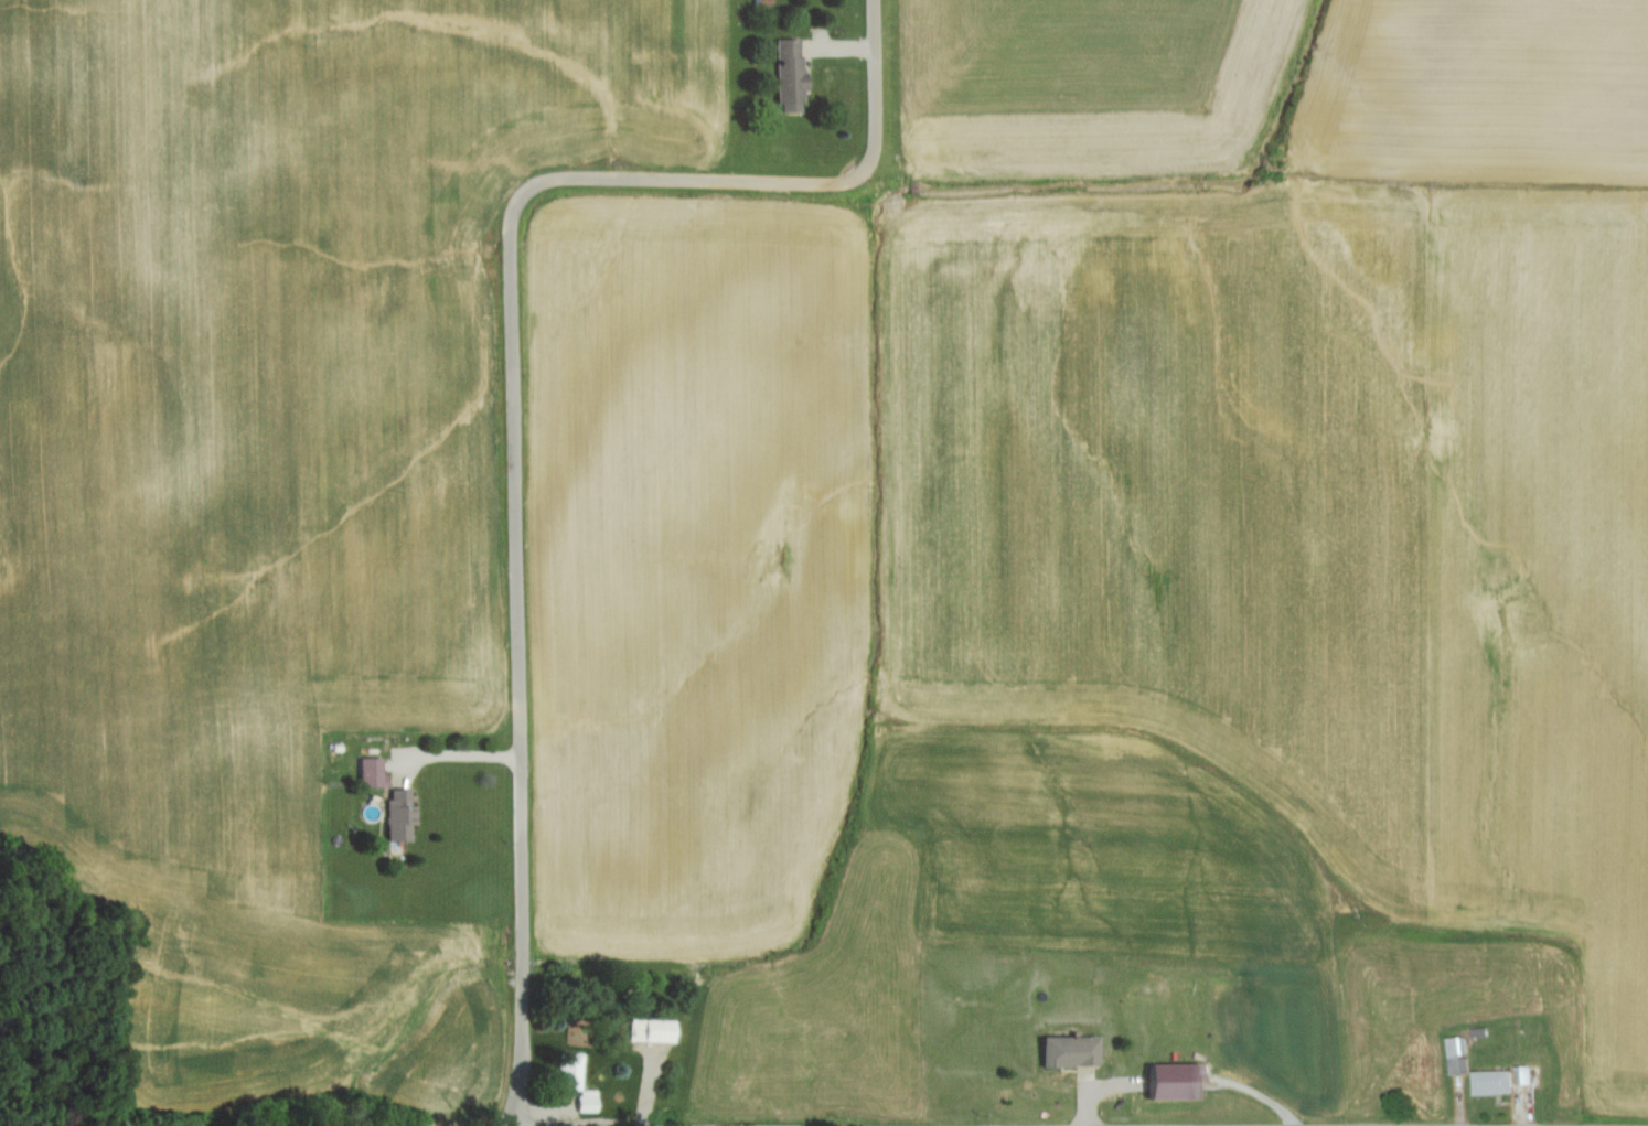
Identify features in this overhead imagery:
building: (792, 77)
road: (513, 398)
road: (462, 755)
building: (372, 772)
building: (403, 815)
building: (654, 1031)
building: (1072, 1052)
building: (1458, 1055)
building: (571, 1072)
building: (1527, 1075)
building: (1496, 1083)
building: (589, 1102)
road: (513, 1125)

